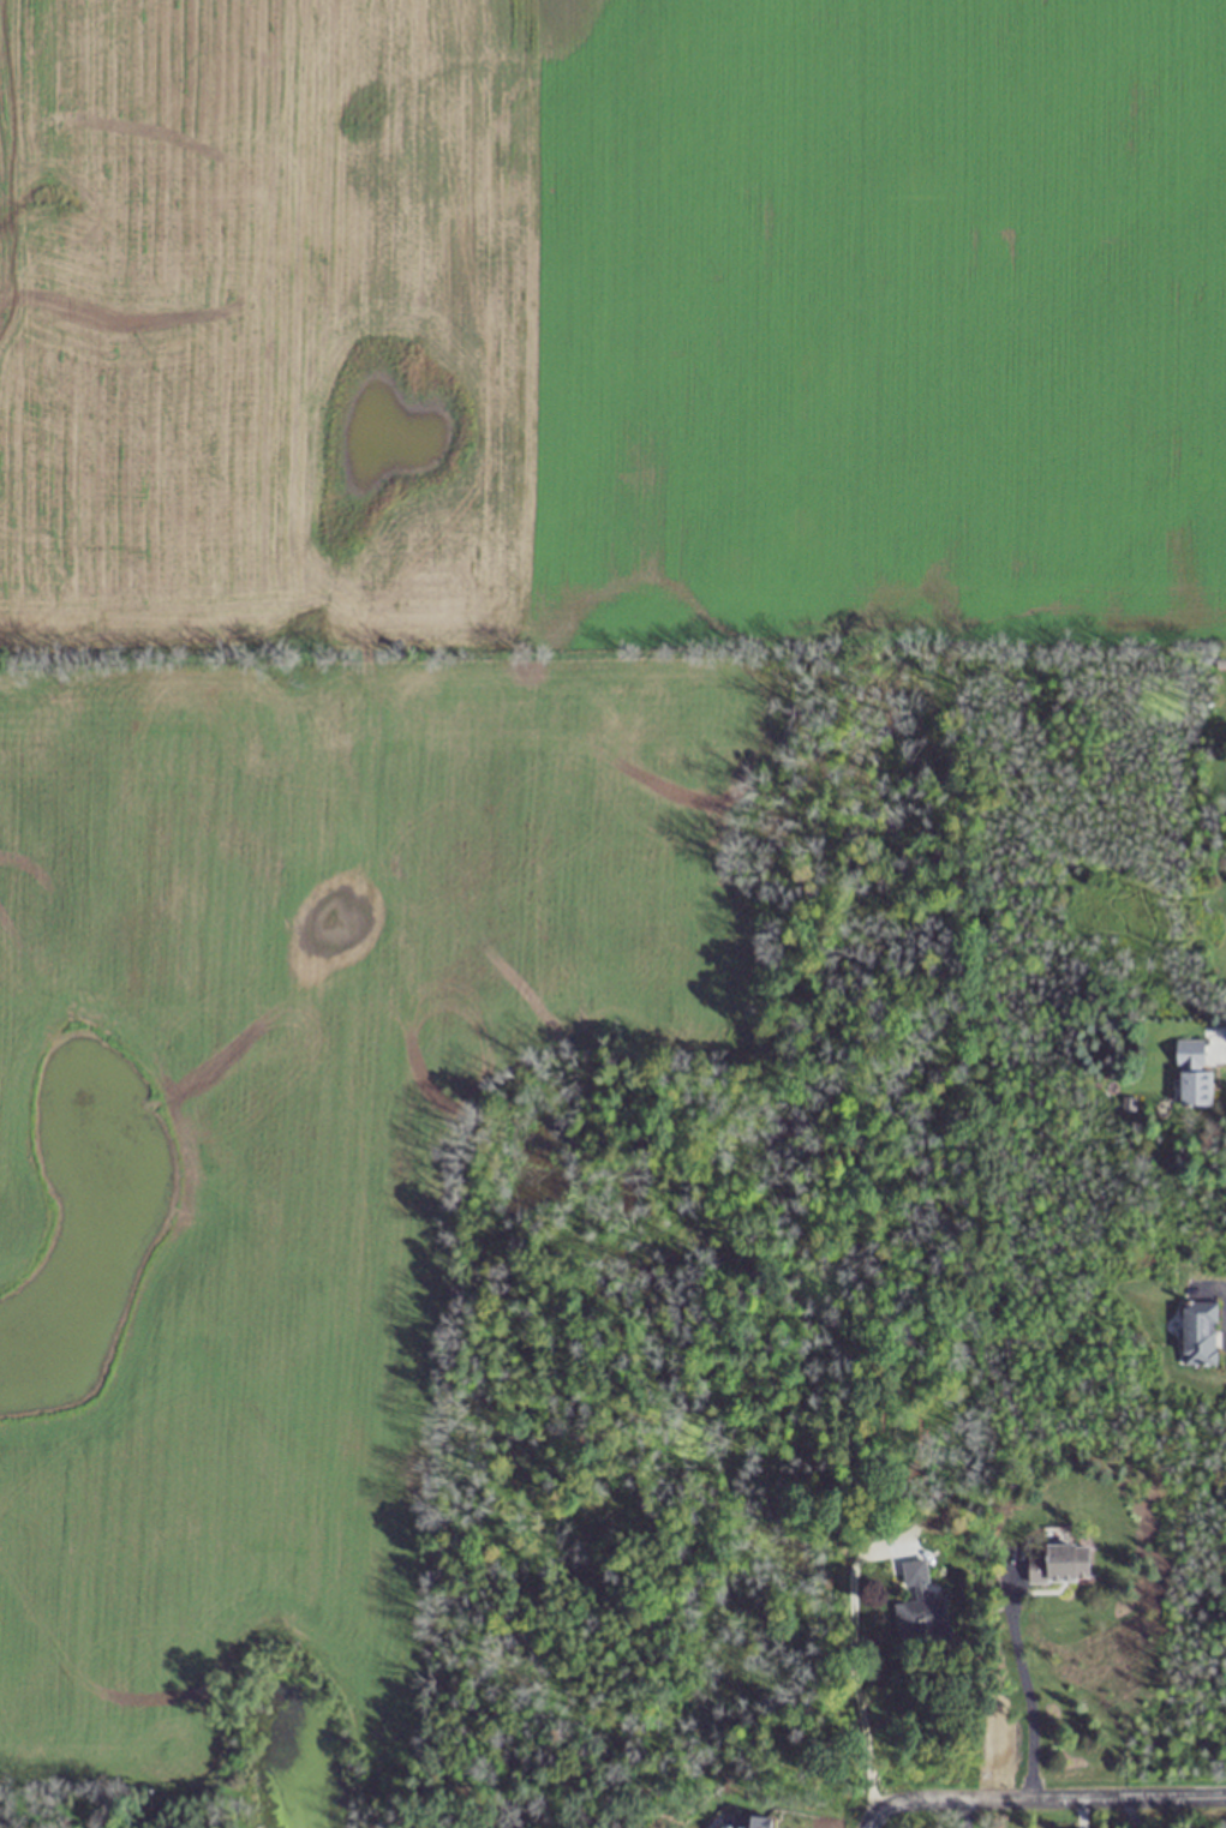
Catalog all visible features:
crop: (470, 681)
building: (1192, 1073)
building: (1200, 1333)
building: (1059, 1563)
building: (919, 1606)
road: (850, 1670)
road: (1024, 1691)
road: (1041, 1799)
park: (25, 1805)
road: (1129, 1812)
road: (1080, 1814)

